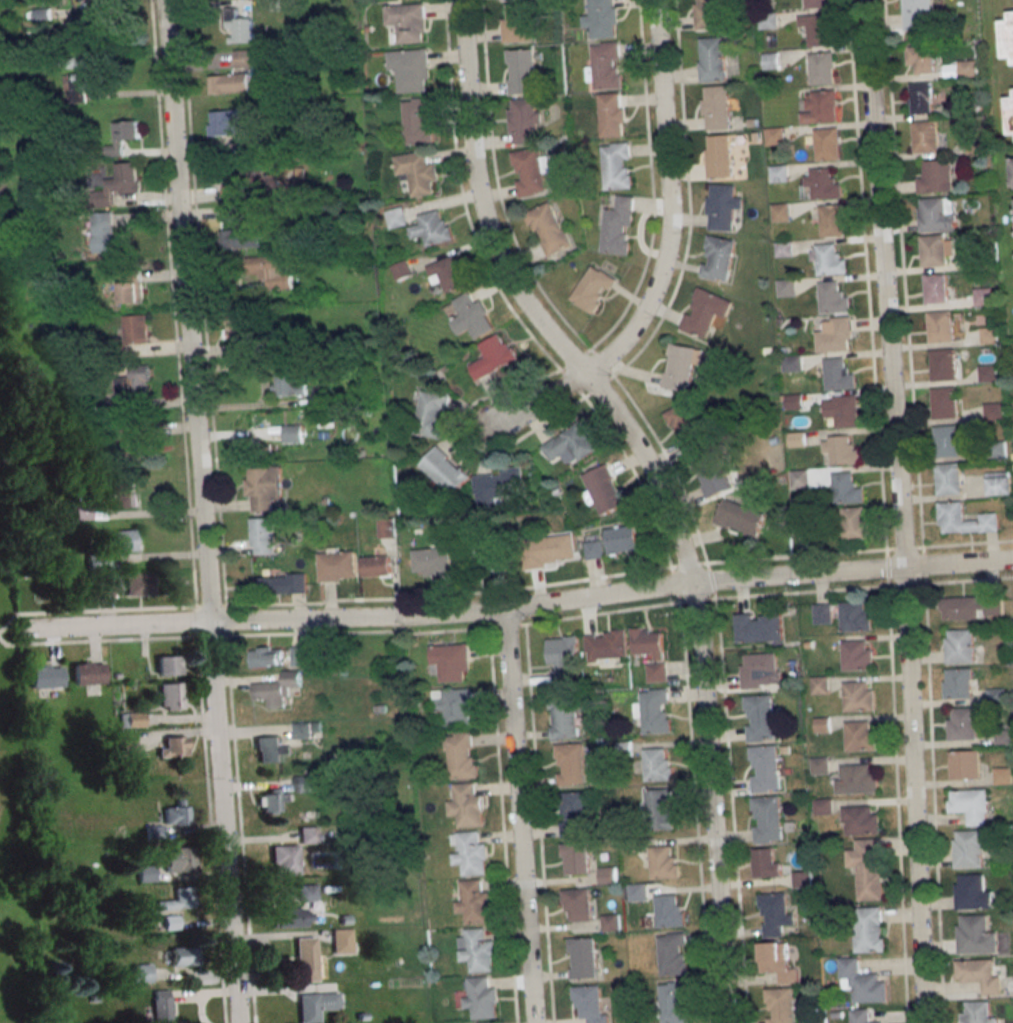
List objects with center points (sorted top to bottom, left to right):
building: (290, 2)
building: (818, 4)
building: (711, 13)
building: (916, 13)
building: (602, 18)
building: (768, 20)
building: (407, 21)
building: (241, 26)
building: (519, 26)
building: (817, 28)
building: (83, 31)
building: (1008, 38)
building: (921, 58)
building: (245, 59)
building: (713, 59)
building: (86, 60)
building: (772, 61)
building: (606, 65)
building: (411, 67)
building: (967, 67)
building: (822, 68)
building: (522, 71)
building: (229, 83)
building: (83, 84)
building: (921, 97)
building: (717, 107)
building: (820, 107)
building: (613, 114)
building: (1010, 115)
building: (526, 119)
building: (418, 120)
building: (225, 122)
building: (754, 123)
building: (123, 135)
building: (775, 136)
building: (927, 136)
building: (757, 138)
building: (253, 139)
building: (828, 144)
building: (975, 146)
building: (719, 156)
building: (618, 166)
building: (1012, 166)
building: (418, 172)
building: (531, 172)
building: (779, 174)
building: (936, 177)
building: (125, 178)
building: (249, 182)
building: (821, 185)
road: (669, 201)
road: (480, 202)
building: (722, 206)
building: (781, 212)
building: (937, 213)
building: (240, 214)
building: (397, 218)
building: (832, 220)
building: (618, 226)
building: (433, 228)
building: (548, 229)
building: (103, 231)
building: (243, 238)
building: (785, 248)
building: (937, 249)
building: (719, 258)
building: (828, 259)
building: (980, 260)
building: (402, 270)
building: (271, 271)
building: (447, 272)
road: (884, 281)
building: (785, 287)
building: (131, 288)
building: (593, 288)
building: (936, 288)
building: (983, 296)
building: (834, 298)
road: (172, 303)
road: (202, 303)
road: (187, 309)
building: (705, 312)
building: (471, 315)
building: (940, 326)
building: (135, 329)
building: (835, 335)
building: (988, 336)
building: (241, 337)
building: (768, 351)
building: (494, 356)
building: (792, 363)
building: (942, 364)
building: (680, 367)
building: (987, 373)
building: (837, 374)
building: (702, 380)
building: (135, 382)
building: (287, 386)
building: (324, 396)
road: (538, 397)
building: (794, 400)
building: (944, 402)
building: (841, 410)
building: (993, 411)
building: (431, 412)
building: (686, 426)
building: (292, 433)
building: (774, 440)
building: (798, 440)
building: (947, 440)
building: (128, 442)
building: (571, 443)
building: (243, 446)
road: (483, 447)
building: (840, 449)
building: (996, 450)
building: (445, 470)
building: (711, 472)
road: (647, 474)
building: (800, 478)
building: (948, 479)
building: (997, 483)
building: (497, 486)
road: (681, 486)
road: (641, 487)
building: (263, 488)
building: (846, 488)
building: (604, 489)
building: (124, 498)
building: (328, 502)
road: (882, 511)
road: (918, 511)
building: (83, 512)
building: (950, 516)
building: (739, 518)
building: (855, 523)
building: (385, 528)
building: (803, 530)
building: (261, 534)
building: (621, 539)
building: (126, 540)
building: (593, 549)
building: (549, 550)
building: (481, 558)
building: (432, 561)
road: (958, 561)
building: (98, 562)
building: (337, 564)
building: (375, 565)
road: (799, 572)
road: (618, 574)
building: (140, 583)
building: (280, 584)
building: (108, 586)
road: (601, 595)
building: (971, 606)
road: (93, 610)
road: (620, 610)
road: (358, 613)
building: (822, 613)
building: (854, 617)
road: (226, 620)
road: (196, 621)
road: (115, 623)
building: (758, 628)
road: (96, 641)
building: (648, 642)
building: (810, 645)
building: (959, 646)
building: (605, 647)
building: (857, 655)
building: (300, 656)
building: (563, 656)
building: (266, 657)
building: (450, 662)
building: (168, 665)
building: (761, 669)
building: (89, 672)
building: (656, 672)
building: (46, 676)
building: (958, 683)
building: (820, 685)
building: (276, 689)
building: (172, 695)
building: (996, 695)
building: (858, 696)
building: (454, 705)
building: (653, 710)
park: (13, 715)
building: (759, 717)
building: (564, 718)
building: (132, 719)
building: (964, 723)
building: (822, 725)
building: (306, 729)
building: (859, 736)
building: (1004, 737)
building: (126, 746)
building: (174, 746)
building: (270, 748)
building: (624, 748)
building: (461, 755)
building: (572, 764)
building: (657, 764)
building: (965, 764)
building: (820, 765)
building: (764, 767)
building: (1003, 776)
building: (857, 778)
building: (302, 783)
road: (913, 793)
building: (270, 800)
road: (710, 803)
building: (970, 804)
building: (467, 805)
building: (822, 806)
building: (658, 809)
building: (175, 813)
building: (574, 814)
road: (517, 816)
building: (766, 818)
building: (860, 819)
road: (224, 821)
road: (538, 823)
road: (502, 825)
road: (241, 829)
road: (211, 830)
building: (154, 832)
building: (307, 834)
building: (632, 843)
building: (969, 848)
building: (469, 852)
building: (575, 858)
building: (180, 859)
building: (284, 859)
building: (662, 861)
building: (766, 863)
building: (867, 867)
building: (145, 873)
building: (608, 875)
building: (801, 878)
building: (306, 892)
building: (637, 892)
building: (973, 892)
building: (178, 899)
building: (474, 902)
building: (577, 905)
building: (668, 911)
building: (774, 913)
building: (292, 917)
building: (345, 920)
building: (170, 922)
building: (610, 922)
building: (868, 929)
building: (975, 935)
building: (342, 940)
building: (476, 949)
building: (671, 953)
building: (182, 957)
building: (583, 957)
building: (305, 958)
building: (777, 961)
building: (140, 973)
building: (979, 973)
building: (861, 981)
building: (480, 996)
building: (672, 1002)
building: (590, 1003)
building: (315, 1005)
building: (779, 1005)
building: (161, 1006)
building: (976, 1012)
building: (836, 1014)
building: (362, 1016)
building: (861, 1016)
building: (486, 1022)

